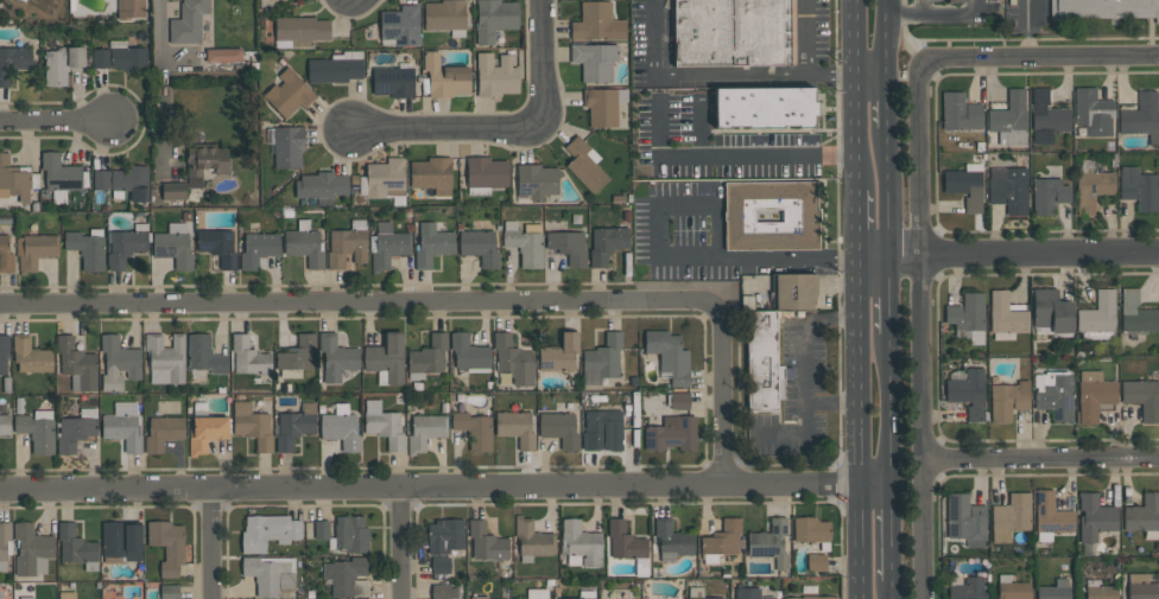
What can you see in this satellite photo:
building: (955, 1)
road: (973, 6)
road: (920, 7)
building: (129, 8)
building: (1108, 8)
gas station: (952, 12)
road: (930, 14)
building: (445, 17)
building: (494, 19)
building: (188, 21)
building: (597, 23)
building: (400, 26)
road: (1025, 30)
building: (298, 31)
building: (734, 32)
road: (887, 36)
road: (652, 37)
building: (223, 56)
building: (127, 57)
building: (101, 58)
road: (811, 58)
road: (1041, 58)
building: (13, 60)
building: (594, 60)
building: (61, 64)
building: (336, 68)
road: (731, 72)
road: (873, 72)
building: (495, 75)
building: (444, 77)
road: (160, 78)
building: (394, 81)
building: (289, 93)
road: (857, 94)
road: (888, 100)
building: (603, 106)
building: (765, 109)
building: (959, 111)
building: (1092, 113)
building: (1141, 116)
building: (1046, 117)
road: (58, 119)
building: (1009, 119)
road: (505, 128)
building: (286, 145)
road: (729, 154)
building: (204, 161)
building: (584, 165)
building: (431, 174)
building: (484, 174)
building: (59, 177)
building: (382, 178)
building: (15, 179)
building: (123, 180)
building: (536, 181)
building: (965, 185)
building: (1091, 185)
building: (321, 186)
building: (1139, 187)
building: (1008, 189)
building: (173, 191)
road: (891, 193)
building: (1049, 195)
building: (800, 216)
road: (860, 224)
building: (525, 243)
building: (126, 244)
building: (304, 244)
building: (348, 244)
building: (431, 244)
building: (607, 244)
building: (173, 246)
building: (217, 246)
building: (387, 246)
building: (480, 247)
building: (568, 247)
building: (87, 248)
building: (258, 249)
building: (34, 250)
building: (5, 254)
road: (1009, 256)
road: (708, 257)
building: (794, 289)
road: (892, 295)
road: (455, 301)
building: (1051, 311)
building: (1098, 313)
building: (1136, 314)
building: (1005, 317)
building: (968, 318)
road: (921, 331)
building: (4, 352)
building: (469, 353)
building: (559, 353)
building: (30, 355)
building: (669, 356)
building: (203, 357)
building: (297, 357)
building: (336, 357)
building: (427, 357)
building: (165, 358)
building: (386, 358)
building: (251, 359)
building: (603, 359)
building: (514, 361)
building: (762, 362)
building: (118, 363)
building: (77, 365)
road: (802, 370)
building: (968, 393)
building: (1054, 394)
building: (1094, 395)
building: (1142, 397)
building: (678, 400)
building: (1008, 400)
road: (832, 402)
road: (893, 409)
building: (253, 422)
building: (5, 425)
building: (384, 425)
building: (122, 426)
building: (293, 426)
building: (341, 427)
building: (517, 427)
building: (559, 428)
building: (76, 429)
building: (204, 429)
building: (475, 429)
building: (601, 429)
road: (862, 429)
building: (37, 431)
building: (425, 432)
building: (163, 433)
building: (671, 434)
road: (1041, 455)
road: (446, 489)
building: (1142, 515)
building: (1011, 516)
building: (1051, 516)
building: (1094, 516)
building: (965, 520)
building: (321, 529)
building: (267, 531)
building: (811, 531)
road: (894, 533)
building: (349, 535)
building: (445, 535)
building: (532, 540)
building: (671, 540)
building: (121, 541)
building: (721, 541)
building: (486, 542)
building: (769, 542)
road: (404, 543)
building: (5, 544)
road: (211, 544)
building: (579, 544)
building: (167, 546)
building: (627, 546)
building: (76, 547)
building: (32, 549)
building: (816, 562)
building: (441, 565)
building: (271, 575)
building: (347, 576)
building: (965, 587)
building: (1141, 587)
building: (1012, 588)
road: (895, 590)
building: (1054, 590)
building: (1100, 590)
building: (169, 591)
building: (443, 592)
building: (537, 593)
building: (697, 593)
building: (749, 593)
building: (68, 595)
building: (479, 597)
building: (812, 597)
building: (26, 598)
building: (489, 598)
building: (582, 598)

